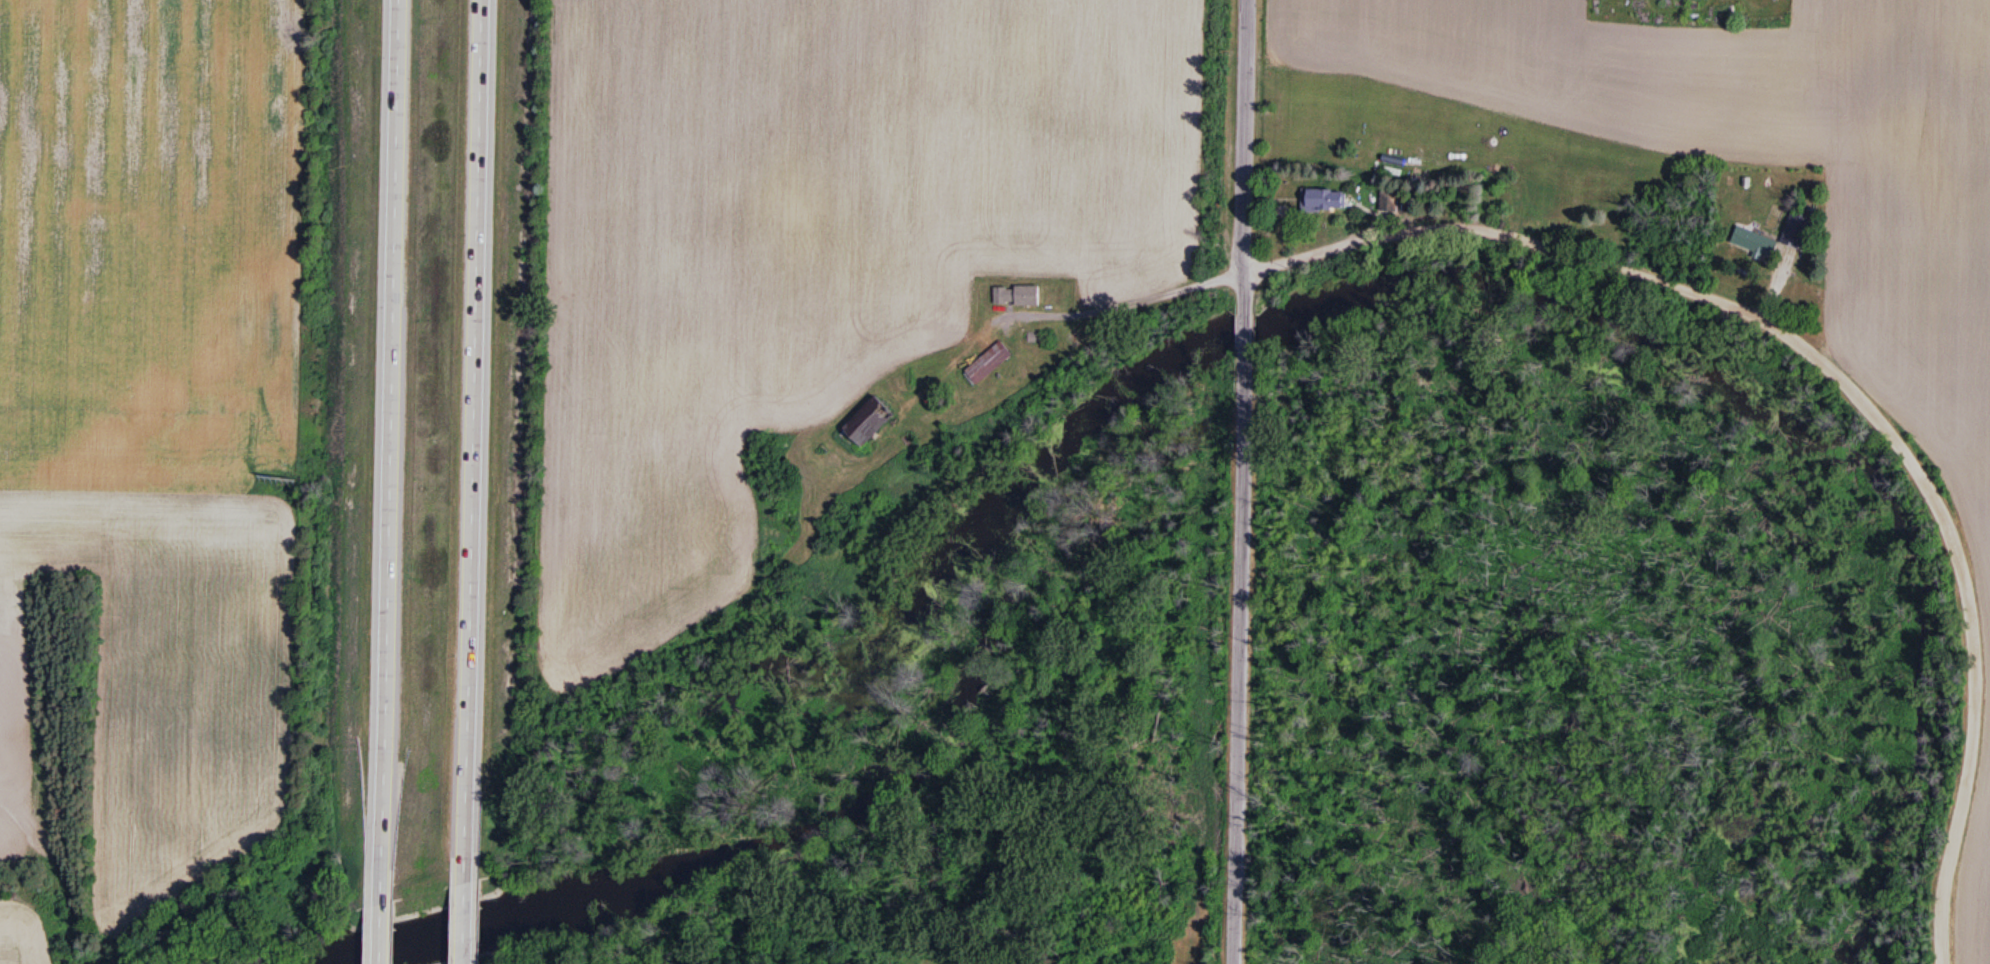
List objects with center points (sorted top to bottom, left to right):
road: (1248, 156)
building: (1324, 200)
building: (1797, 228)
building: (1755, 242)
building: (1017, 296)
road: (1133, 308)
river: (1254, 328)
road: (1245, 337)
building: (989, 364)
road: (1838, 375)
building: (868, 422)
road: (474, 442)
road: (386, 452)
road: (1239, 662)
road: (465, 924)
road: (382, 935)

